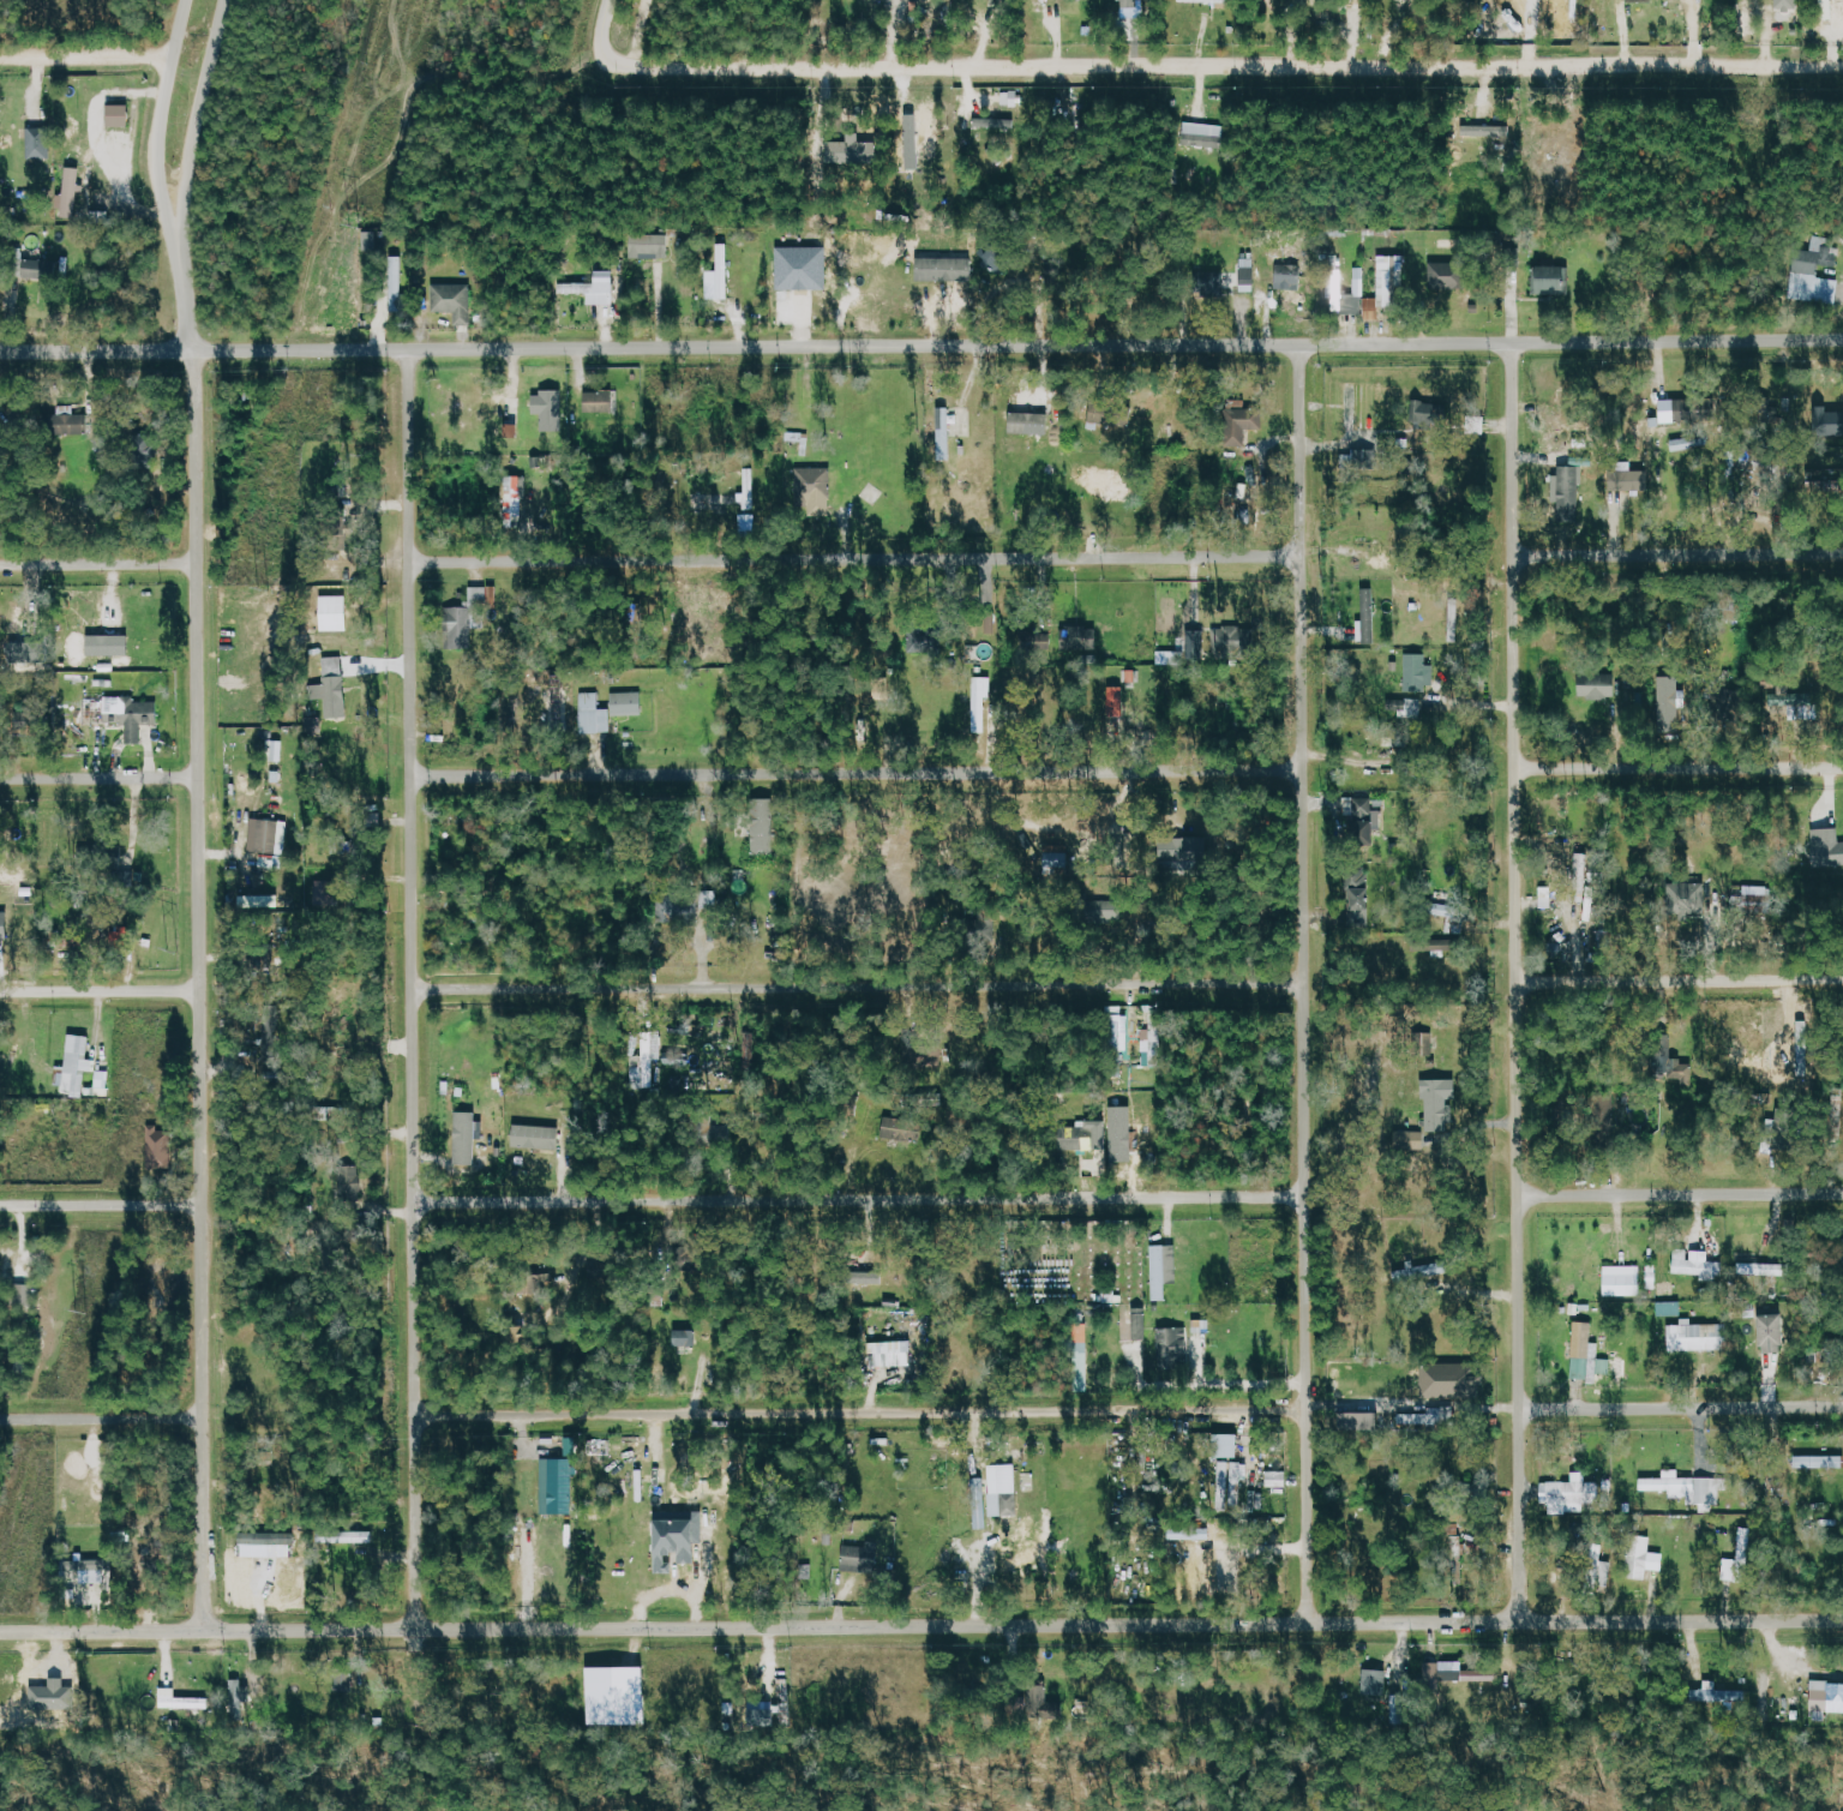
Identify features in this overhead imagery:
building: (1207, 0)
building: (1641, 0)
building: (1131, 2)
building: (1787, 2)
road: (637, 30)
road: (604, 34)
road: (86, 54)
road: (1231, 64)
building: (120, 115)
building: (996, 124)
road: (194, 128)
road: (158, 130)
building: (1487, 131)
building: (1206, 134)
building: (40, 143)
building: (851, 151)
building: (71, 192)
power tower: (354, 229)
building: (650, 245)
building: (1814, 260)
building: (803, 268)
building: (37, 269)
building: (945, 269)
building: (724, 270)
building: (1359, 272)
building: (1447, 275)
building: (1335, 278)
building: (1554, 278)
building: (1248, 280)
building: (1213, 282)
building: (396, 283)
building: (1386, 286)
building: (592, 292)
building: (454, 300)
building: (1245, 300)
road: (186, 305)
road: (921, 346)
building: (600, 401)
building: (550, 410)
building: (1669, 410)
building: (1429, 412)
building: (1245, 420)
building: (67, 421)
building: (1829, 421)
building: (1031, 422)
building: (945, 433)
building: (1359, 457)
building: (1629, 480)
building: (814, 485)
building: (750, 488)
building: (1569, 492)
building: (516, 498)
road: (1679, 554)
road: (854, 559)
road: (97, 562)
power tower: (264, 590)
building: (335, 612)
building: (472, 614)
building: (1368, 614)
building: (1083, 637)
building: (1035, 640)
building: (924, 641)
building: (1231, 642)
building: (109, 644)
building: (1175, 653)
building: (1419, 672)
building: (335, 686)
building: (1599, 686)
building: (1117, 701)
building: (981, 702)
building: (628, 703)
building: (1671, 706)
building: (1805, 706)
building: (594, 714)
building: (133, 715)
building: (89, 716)
building: (313, 724)
road: (1679, 767)
road: (856, 772)
road: (98, 779)
building: (1359, 821)
building: (763, 835)
building: (268, 836)
building: (1826, 848)
building: (362, 852)
building: (1189, 853)
building: (1057, 862)
building: (326, 890)
building: (1359, 896)
building: (1547, 896)
building: (1688, 898)
building: (264, 901)
building: (679, 907)
building: (1111, 911)
building: (1454, 917)
building: (4, 923)
building: (990, 925)
building: (120, 937)
building: (1440, 949)
power tower: (170, 951)
road: (1679, 979)
road: (1515, 982)
road: (1302, 983)
road: (857, 984)
road: (199, 990)
road: (412, 990)
road: (100, 991)
building: (1122, 1033)
building: (1153, 1039)
building: (271, 1041)
building: (923, 1056)
building: (647, 1060)
building: (1670, 1063)
building: (76, 1065)
building: (1440, 1102)
building: (337, 1117)
building: (702, 1120)
building: (901, 1127)
building: (1117, 1132)
building: (538, 1135)
building: (467, 1137)
building: (1074, 1137)
building: (1411, 1141)
building: (160, 1147)
building: (347, 1180)
road: (1680, 1193)
road: (858, 1199)
road: (103, 1203)
building: (0, 1255)
building: (1698, 1264)
building: (601, 1269)
building: (1164, 1269)
building: (1767, 1269)
building: (1652, 1276)
building: (871, 1277)
building: (1622, 1279)
building: (23, 1294)
building: (1669, 1308)
power tower: (79, 1313)
building: (1141, 1323)
building: (1775, 1332)
building: (1699, 1336)
building: (685, 1337)
building: (1173, 1347)
building: (894, 1353)
building: (1081, 1355)
building: (1587, 1355)
building: (1452, 1380)
road: (1412, 1402)
road: (1681, 1408)
road: (860, 1409)
road: (104, 1417)
building: (1359, 1420)
building: (1227, 1444)
building: (1820, 1461)
building: (1277, 1477)
building: (1231, 1481)
building: (559, 1485)
building: (1004, 1489)
building: (1581, 1492)
building: (980, 1504)
building: (346, 1536)
building: (679, 1539)
building: (263, 1541)
building: (862, 1557)
building: (1644, 1557)
building: (1740, 1558)
building: (1211, 1565)
building: (1605, 1569)
road: (920, 1627)
building: (1455, 1673)
building: (1373, 1681)
building: (239, 1691)
building: (1717, 1693)
building: (1827, 1696)
building: (1031, 1698)
building: (181, 1699)
building: (769, 1707)

